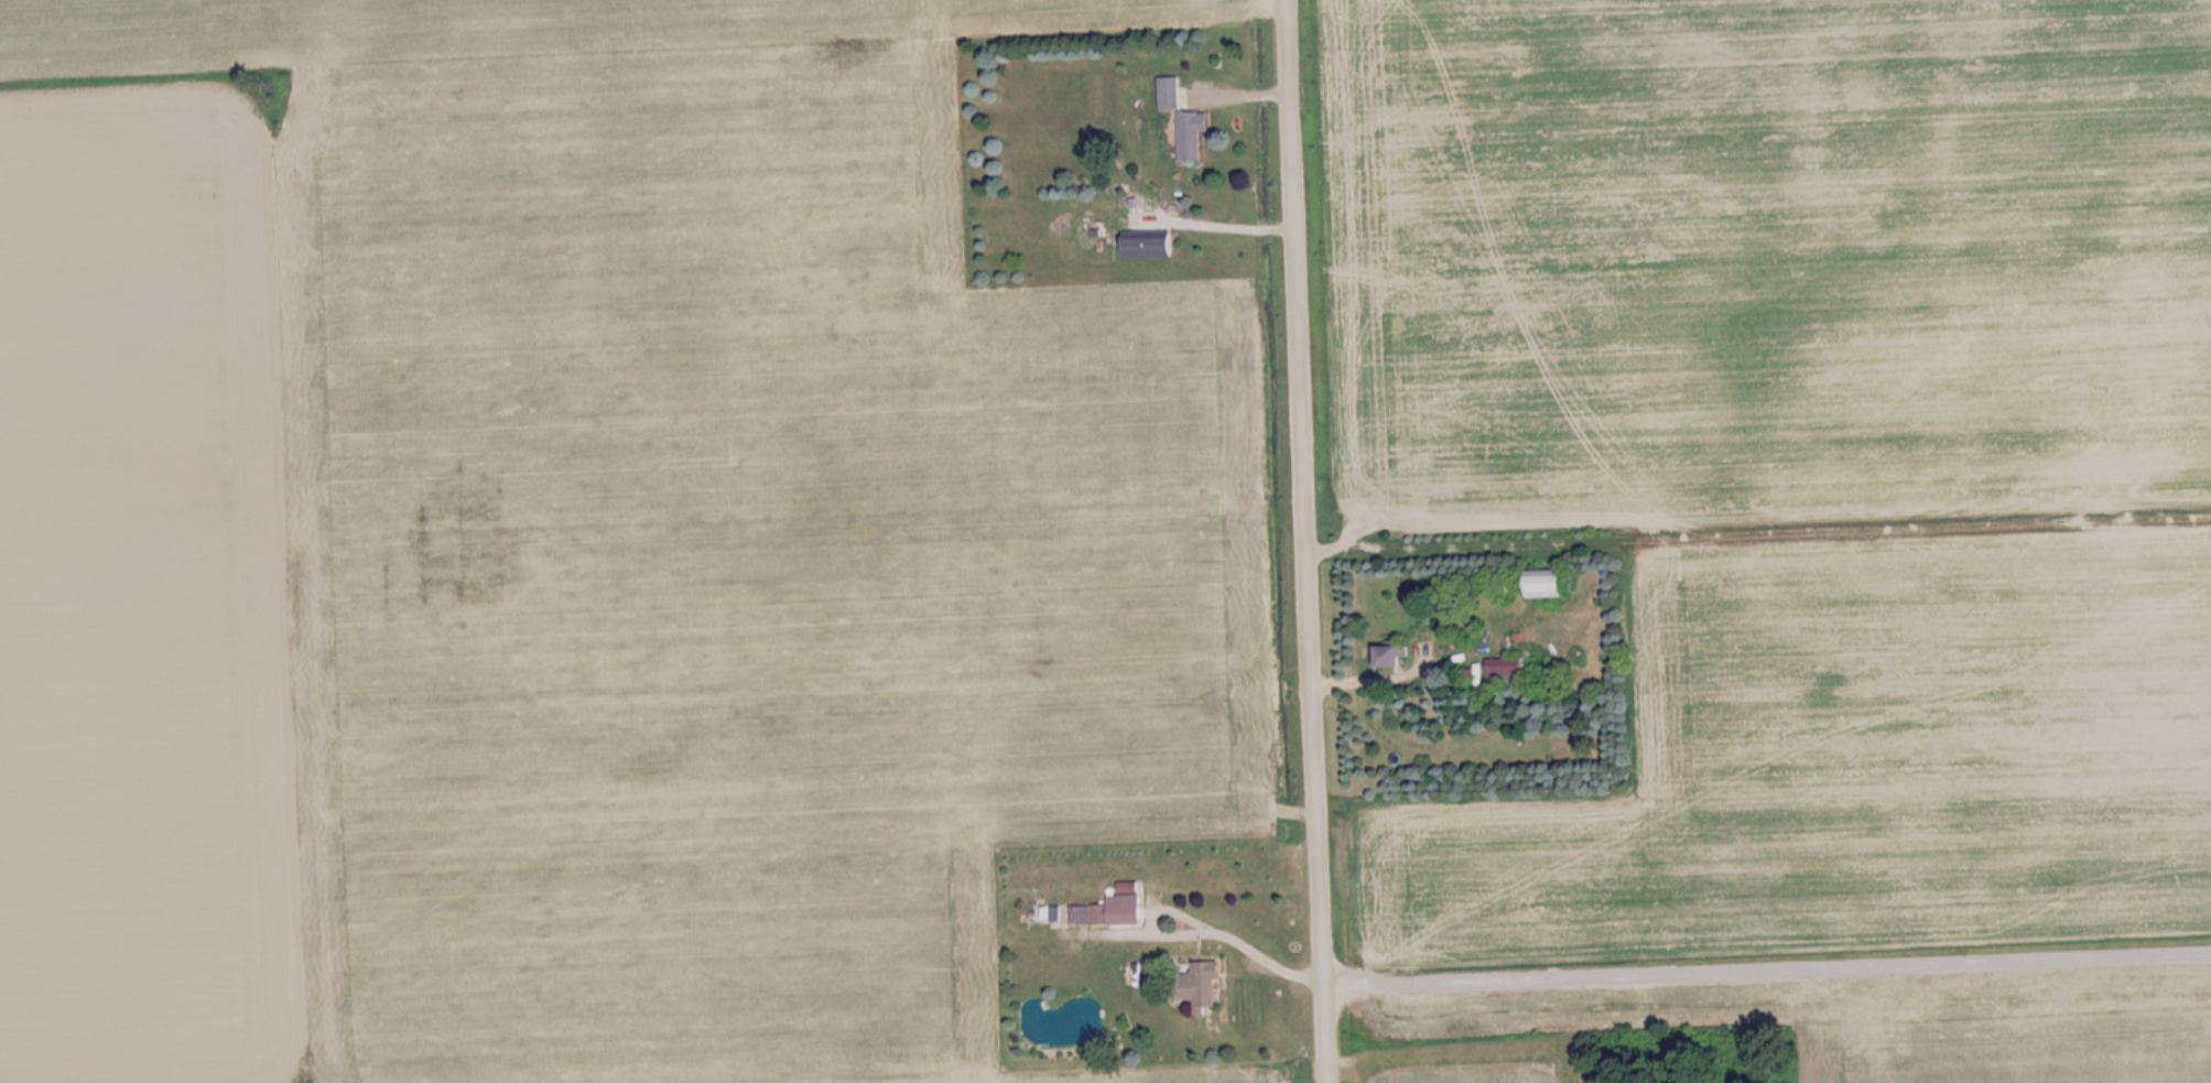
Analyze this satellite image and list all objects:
building: (1171, 94)
building: (1194, 136)
building: (1150, 245)
road: (1307, 541)
building: (1552, 583)
building: (1397, 657)
building: (1516, 669)
building: (1102, 913)
road: (1767, 962)
building: (1203, 987)

